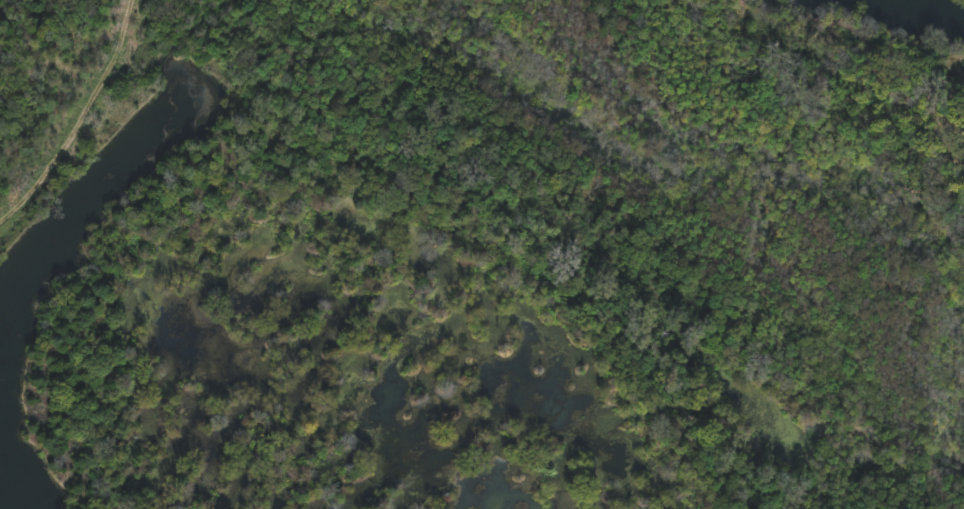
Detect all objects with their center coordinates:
road: (85, 110)
road: (7, 213)

